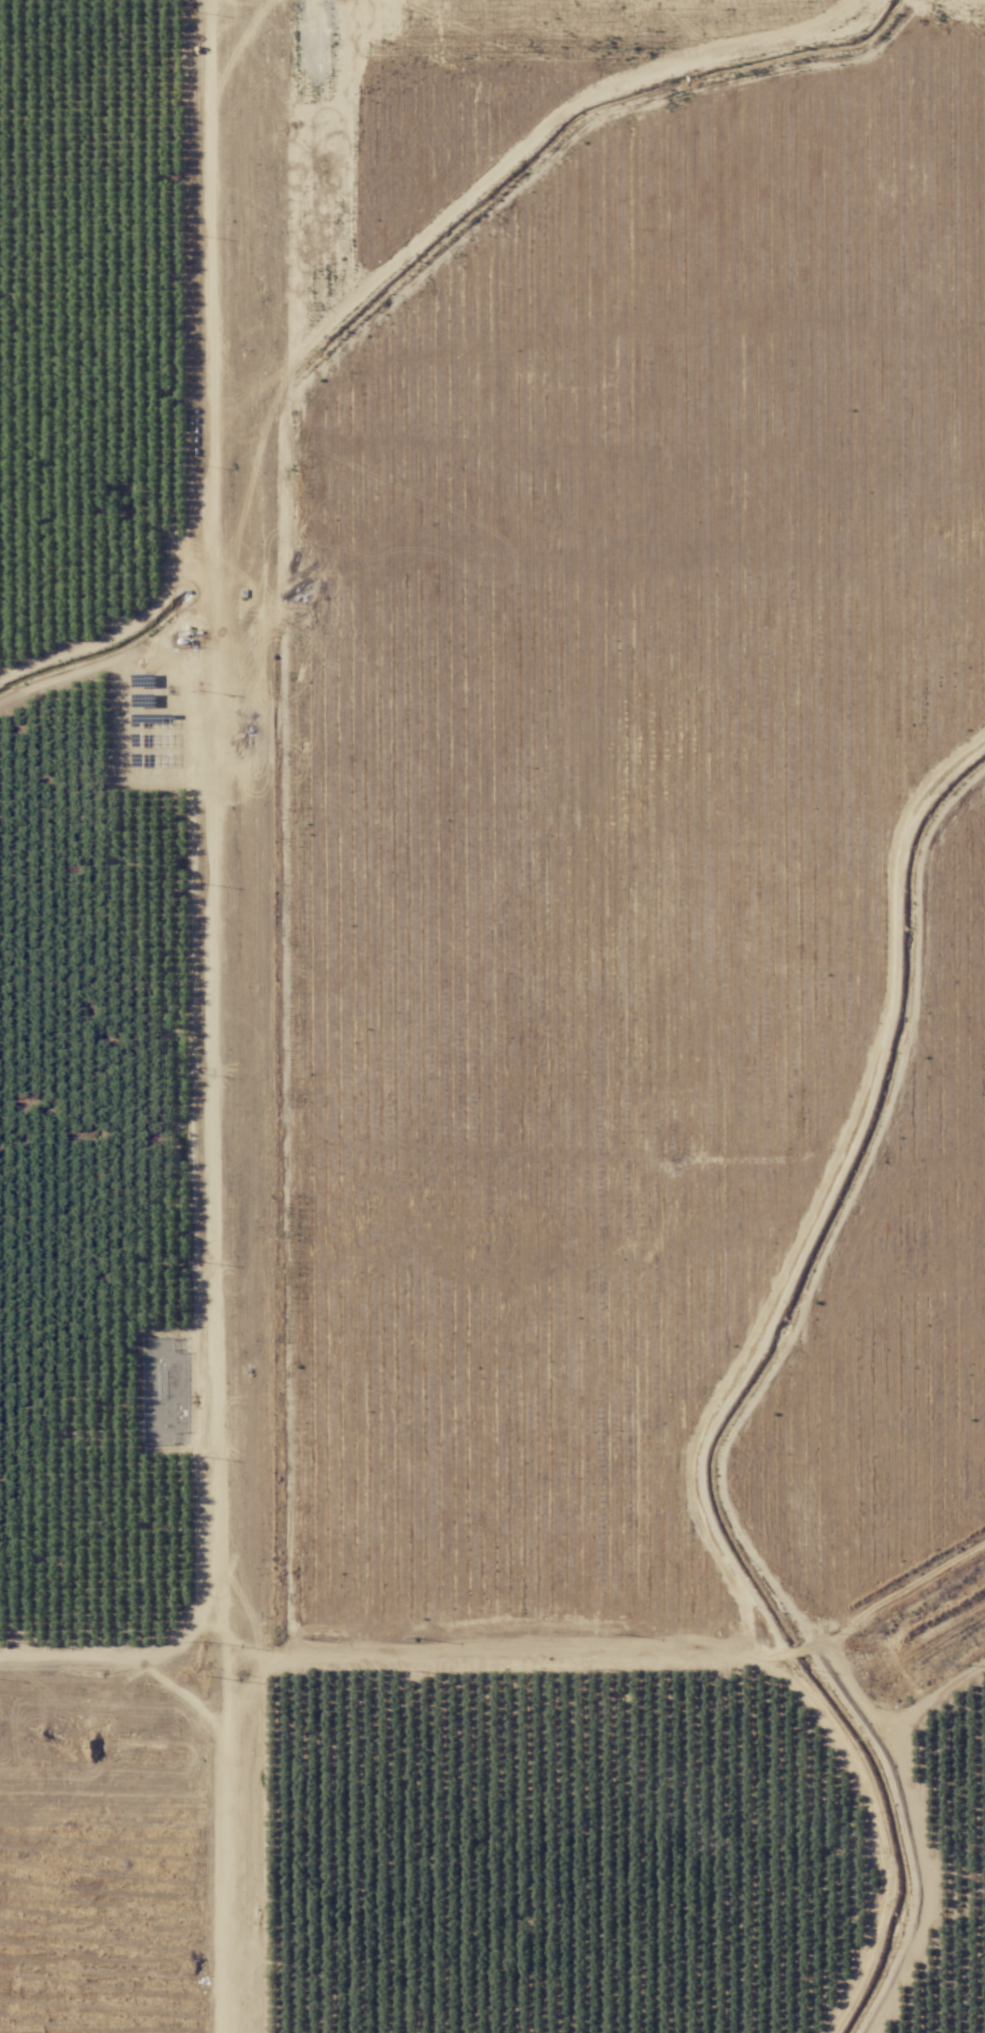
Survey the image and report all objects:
road: (217, 1016)

